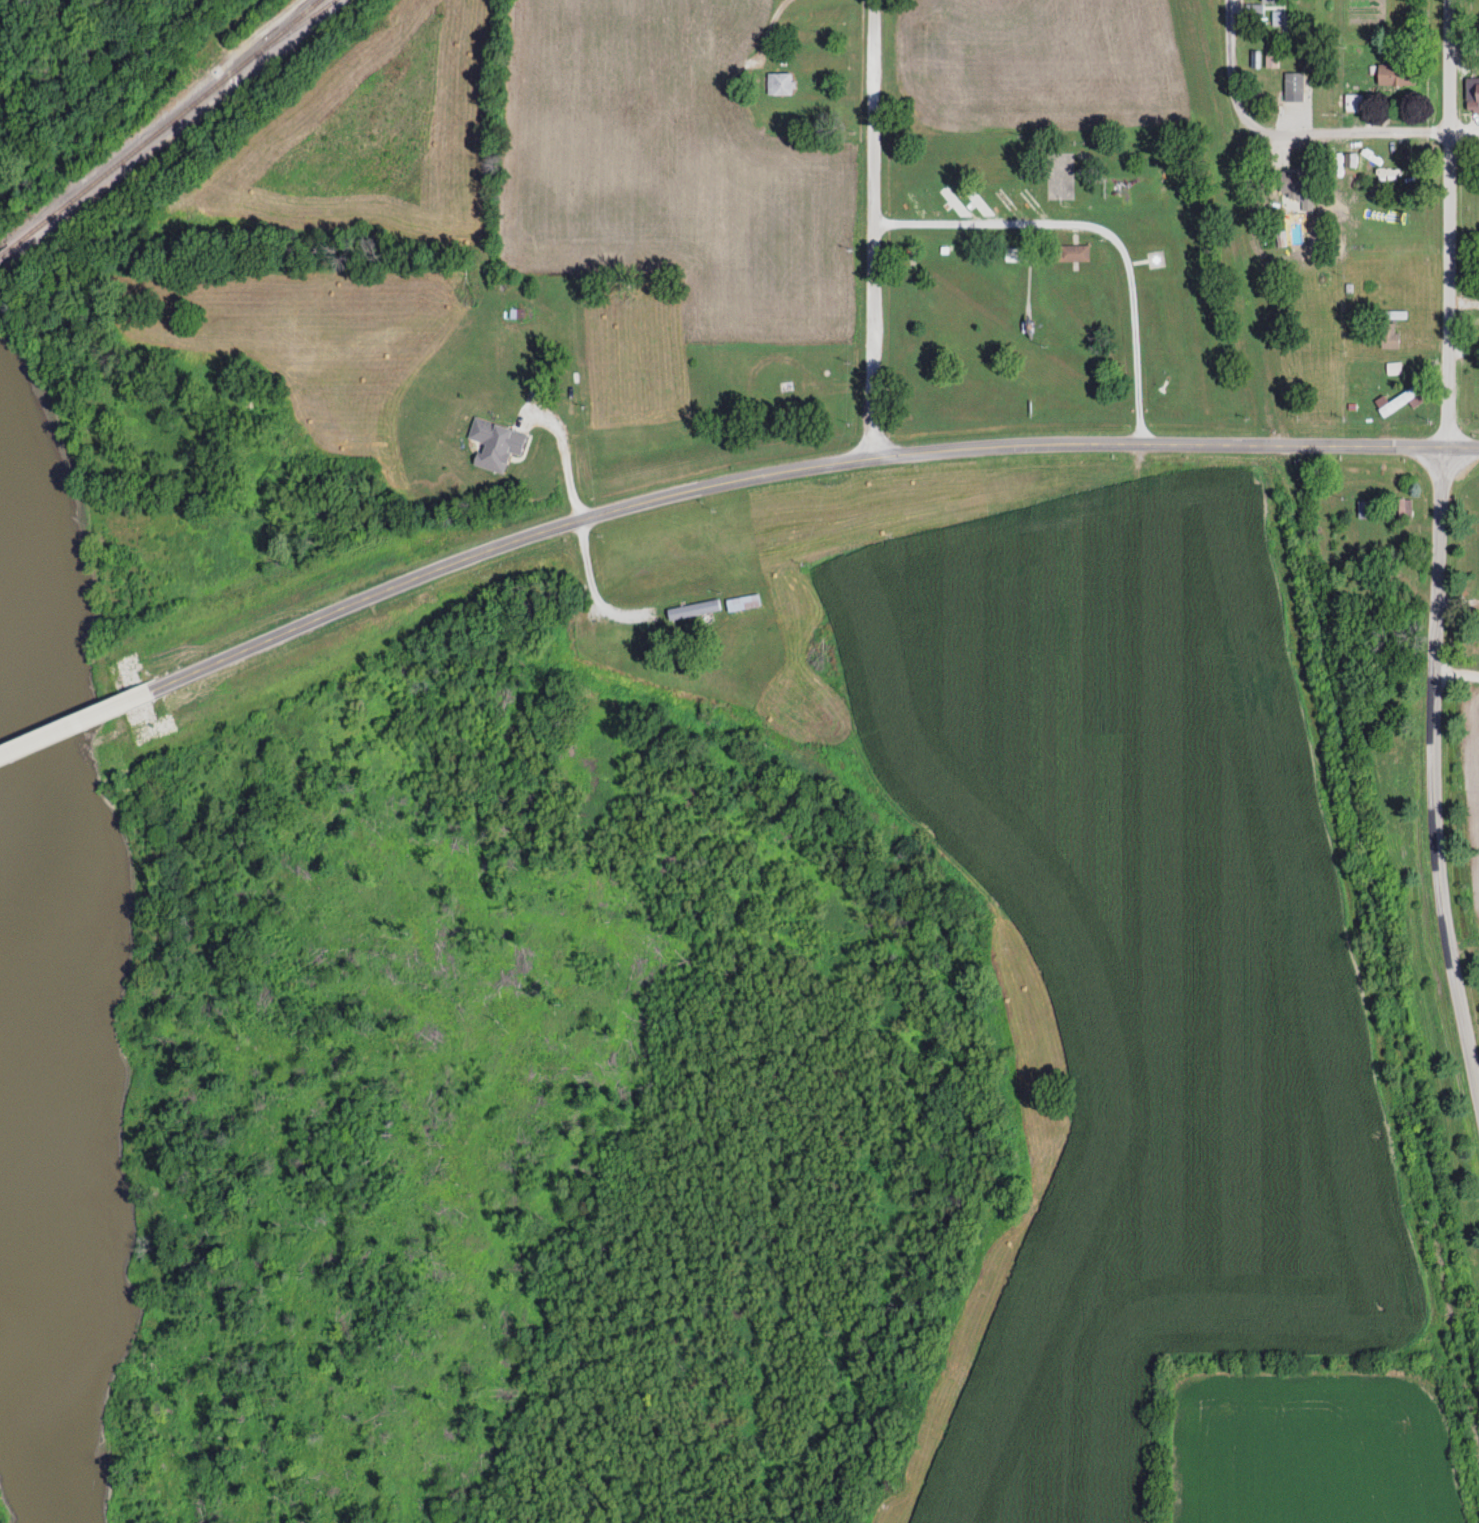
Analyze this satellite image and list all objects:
building: (1269, 2)
building: (1283, 20)
railway: (283, 35)
building: (1271, 59)
road: (1227, 65)
building: (1395, 75)
building: (1293, 82)
building: (778, 83)
building: (1477, 90)
building: (1353, 102)
railway: (164, 126)
road: (1363, 132)
building: (1350, 159)
building: (1295, 181)
road: (1449, 223)
road: (873, 227)
road: (1097, 230)
railway: (4, 252)
building: (1073, 253)
building: (1155, 260)
park: (1052, 286)
building: (1397, 314)
building: (1388, 335)
building: (784, 386)
building: (1398, 400)
road: (1173, 443)
building: (495, 444)
building: (1404, 508)
road: (500, 542)
building: (741, 602)
building: (1477, 625)
road: (1456, 672)
road: (75, 722)
road: (1434, 780)

